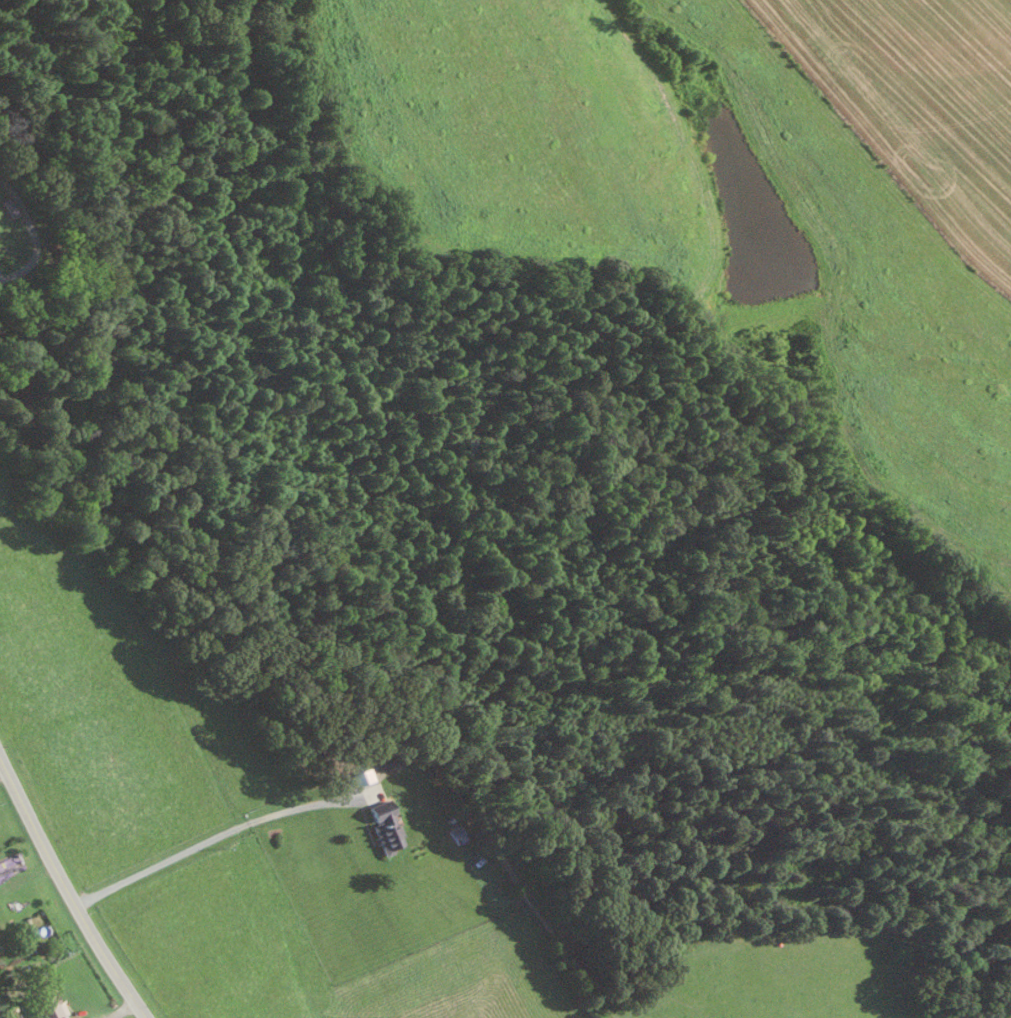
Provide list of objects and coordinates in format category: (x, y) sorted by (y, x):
road: (31, 233)
crop: (849, 326)
road: (2, 769)
road: (375, 776)
building: (384, 829)
road: (202, 841)
road: (62, 892)
crop: (787, 974)
building: (47, 1006)

